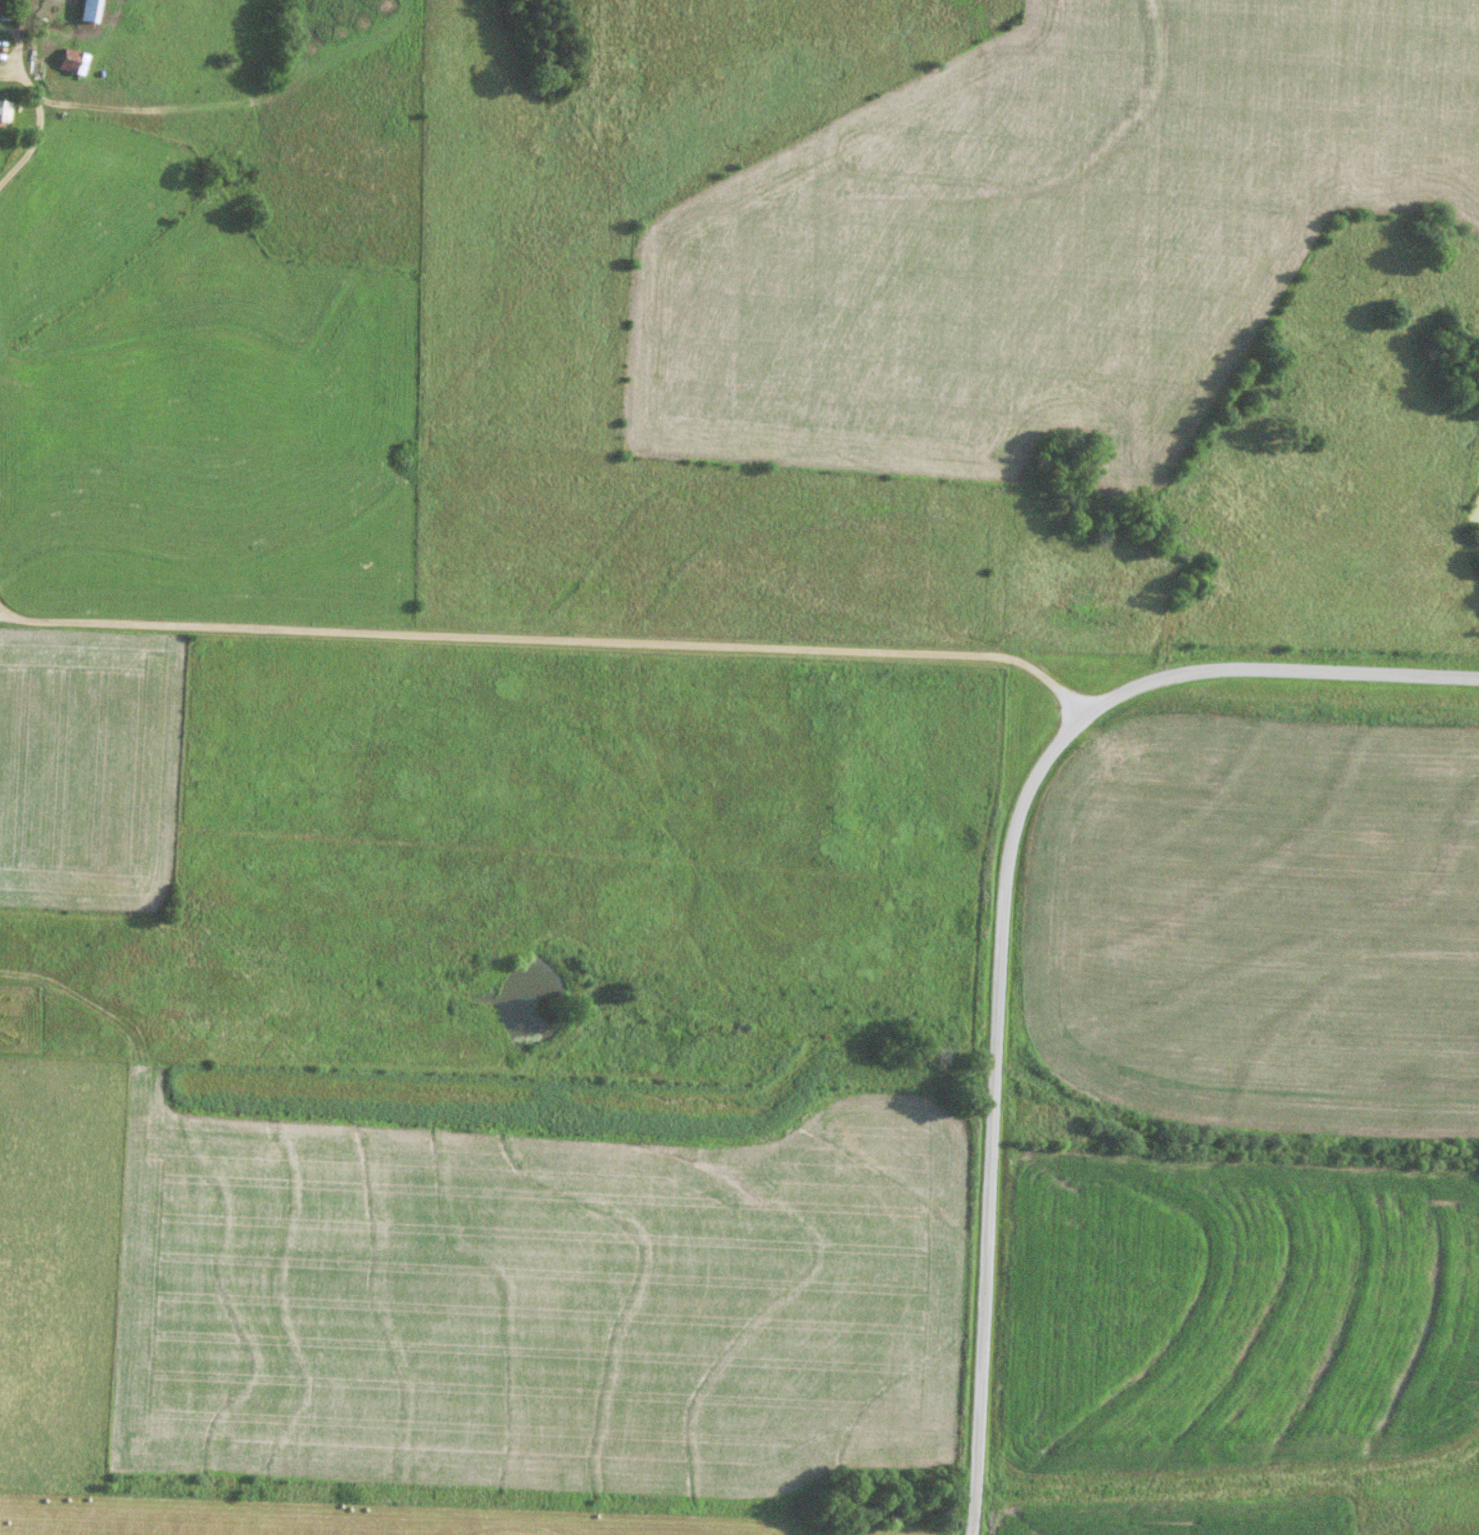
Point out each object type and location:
building: (86, 12)
building: (69, 62)
building: (2, 113)
road: (35, 119)
road: (6, 615)
road: (548, 639)
road: (1003, 909)

